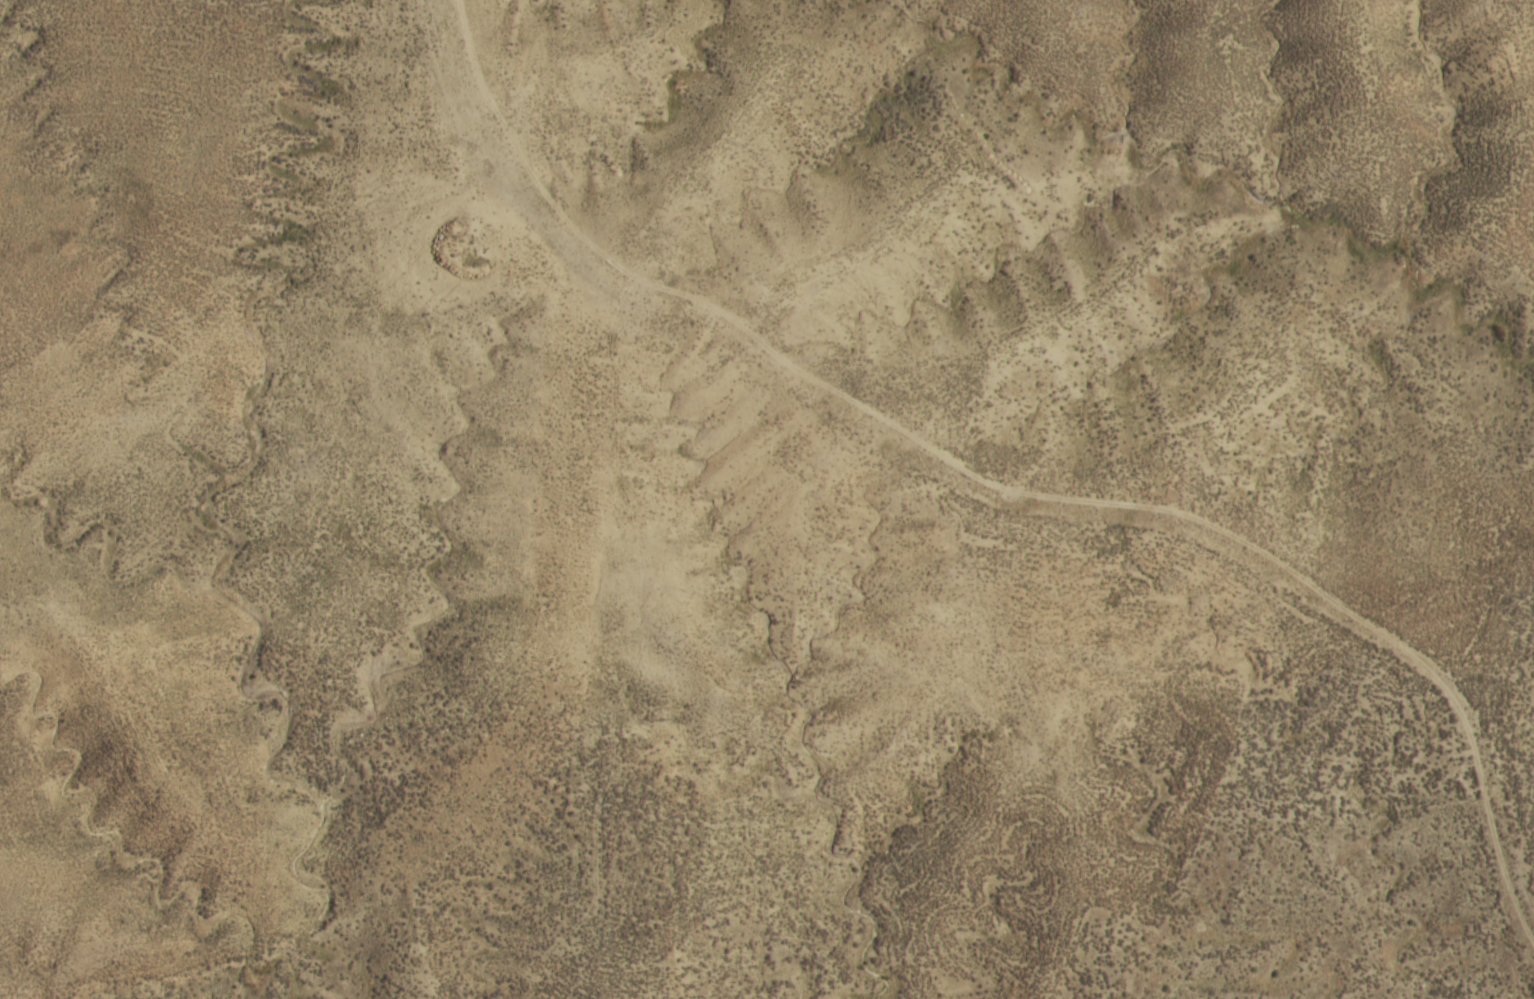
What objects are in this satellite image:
road: (213, 0)
road: (113, 80)

